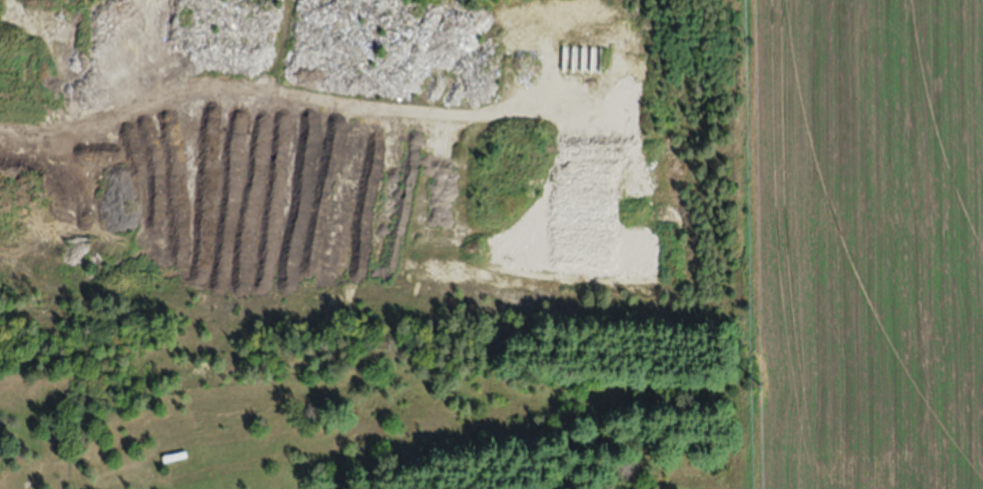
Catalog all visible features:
quarry: (365, 165)

